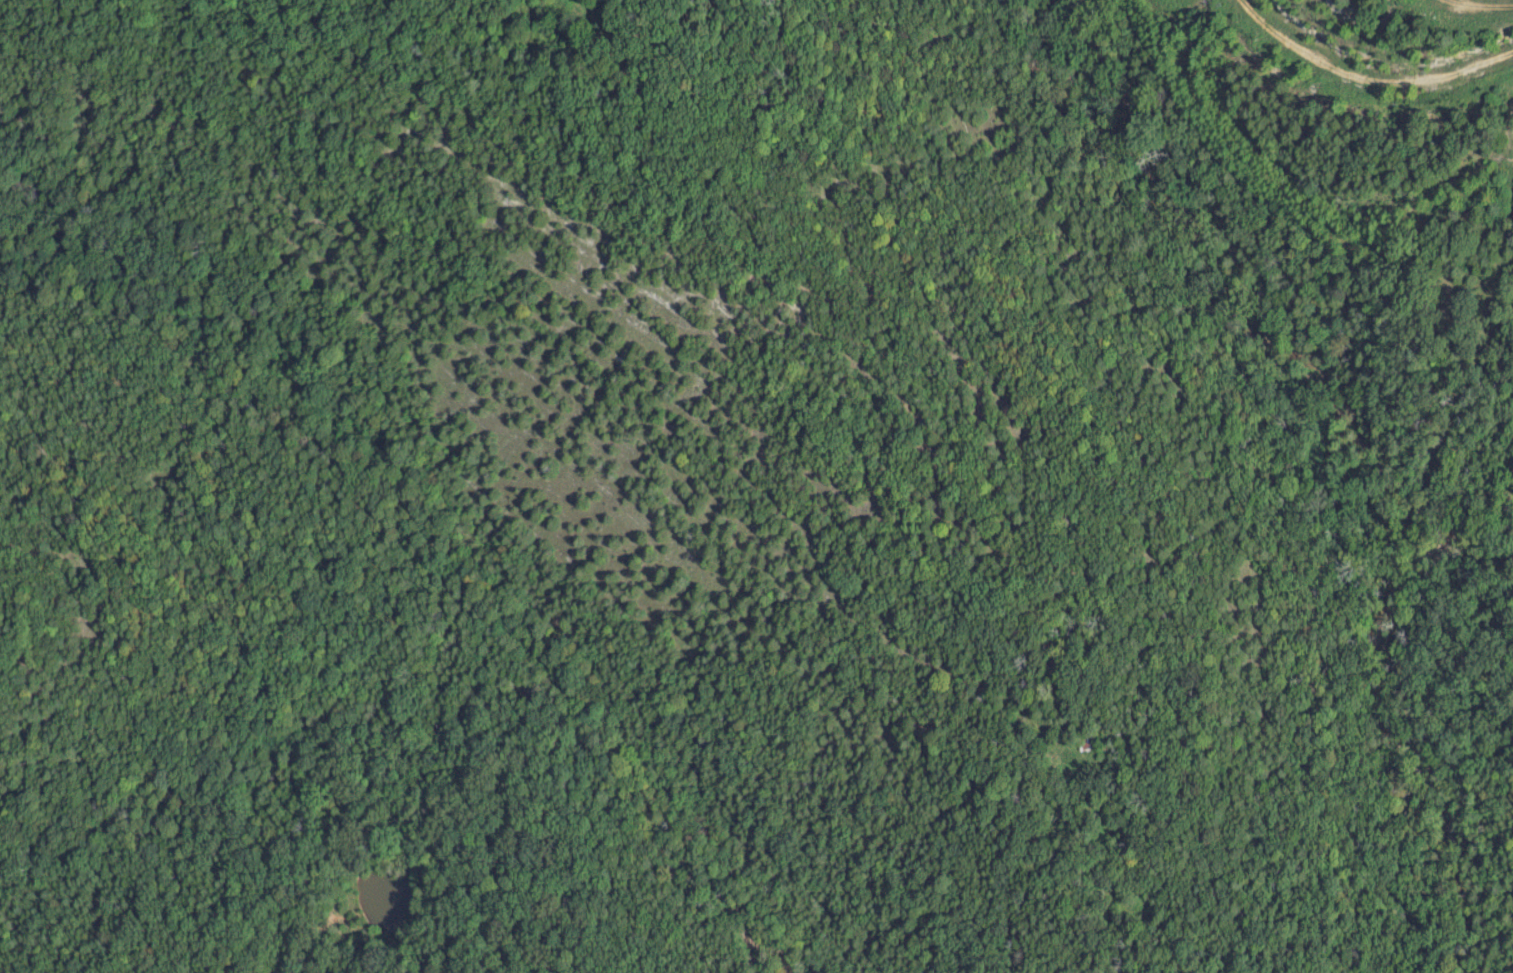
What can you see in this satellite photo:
road: (1486, 3)
road: (1364, 77)

